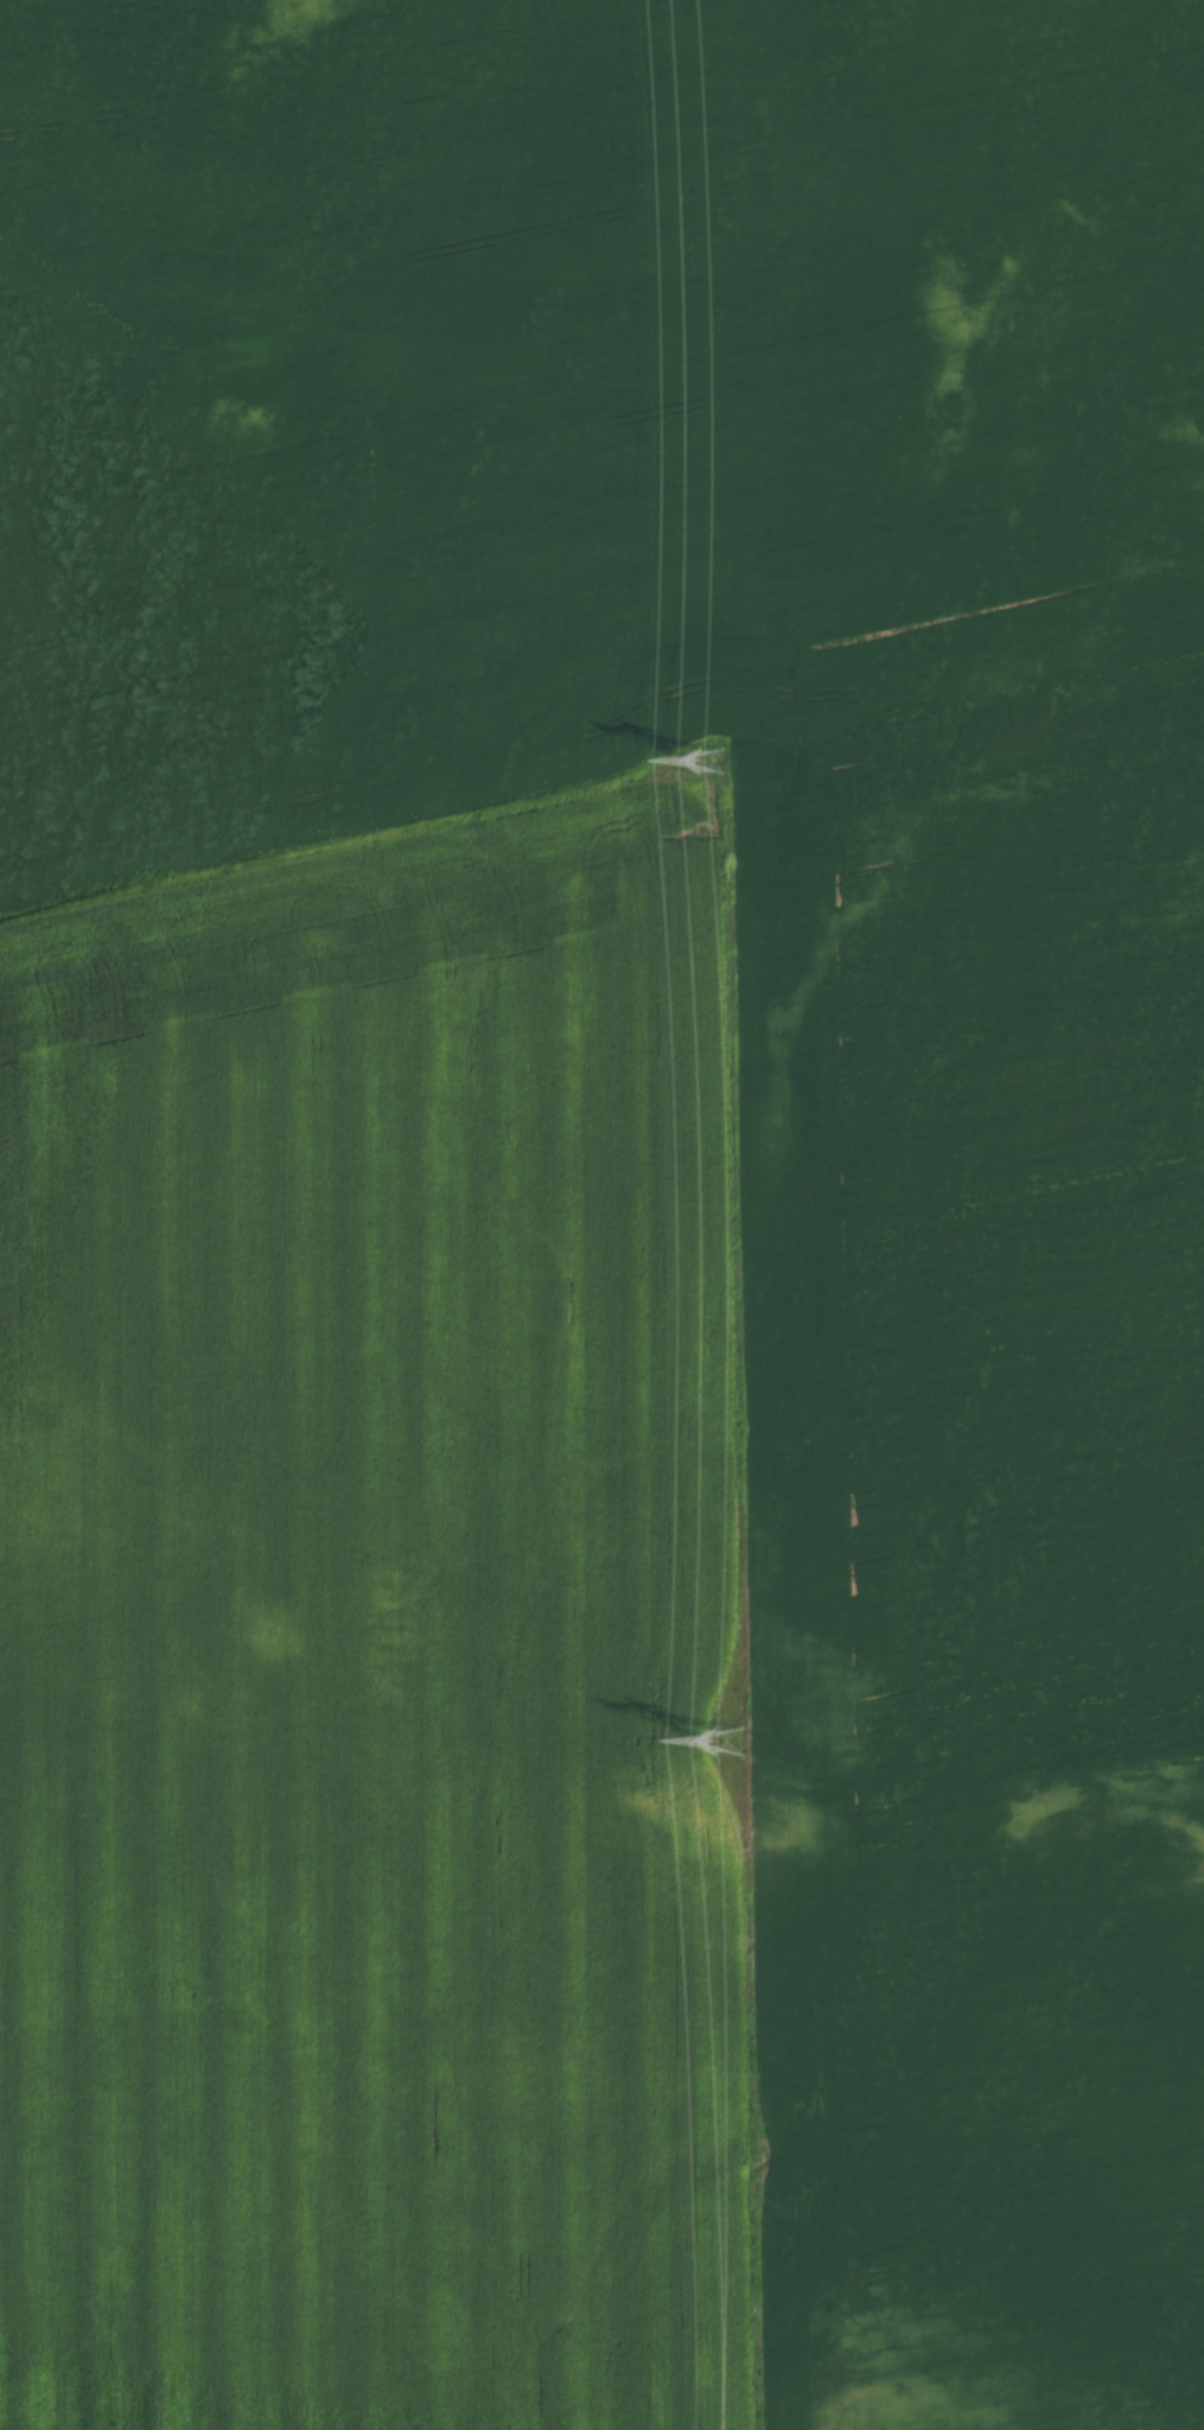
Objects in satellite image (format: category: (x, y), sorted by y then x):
power tower: (703, 759)
power tower: (726, 1743)

